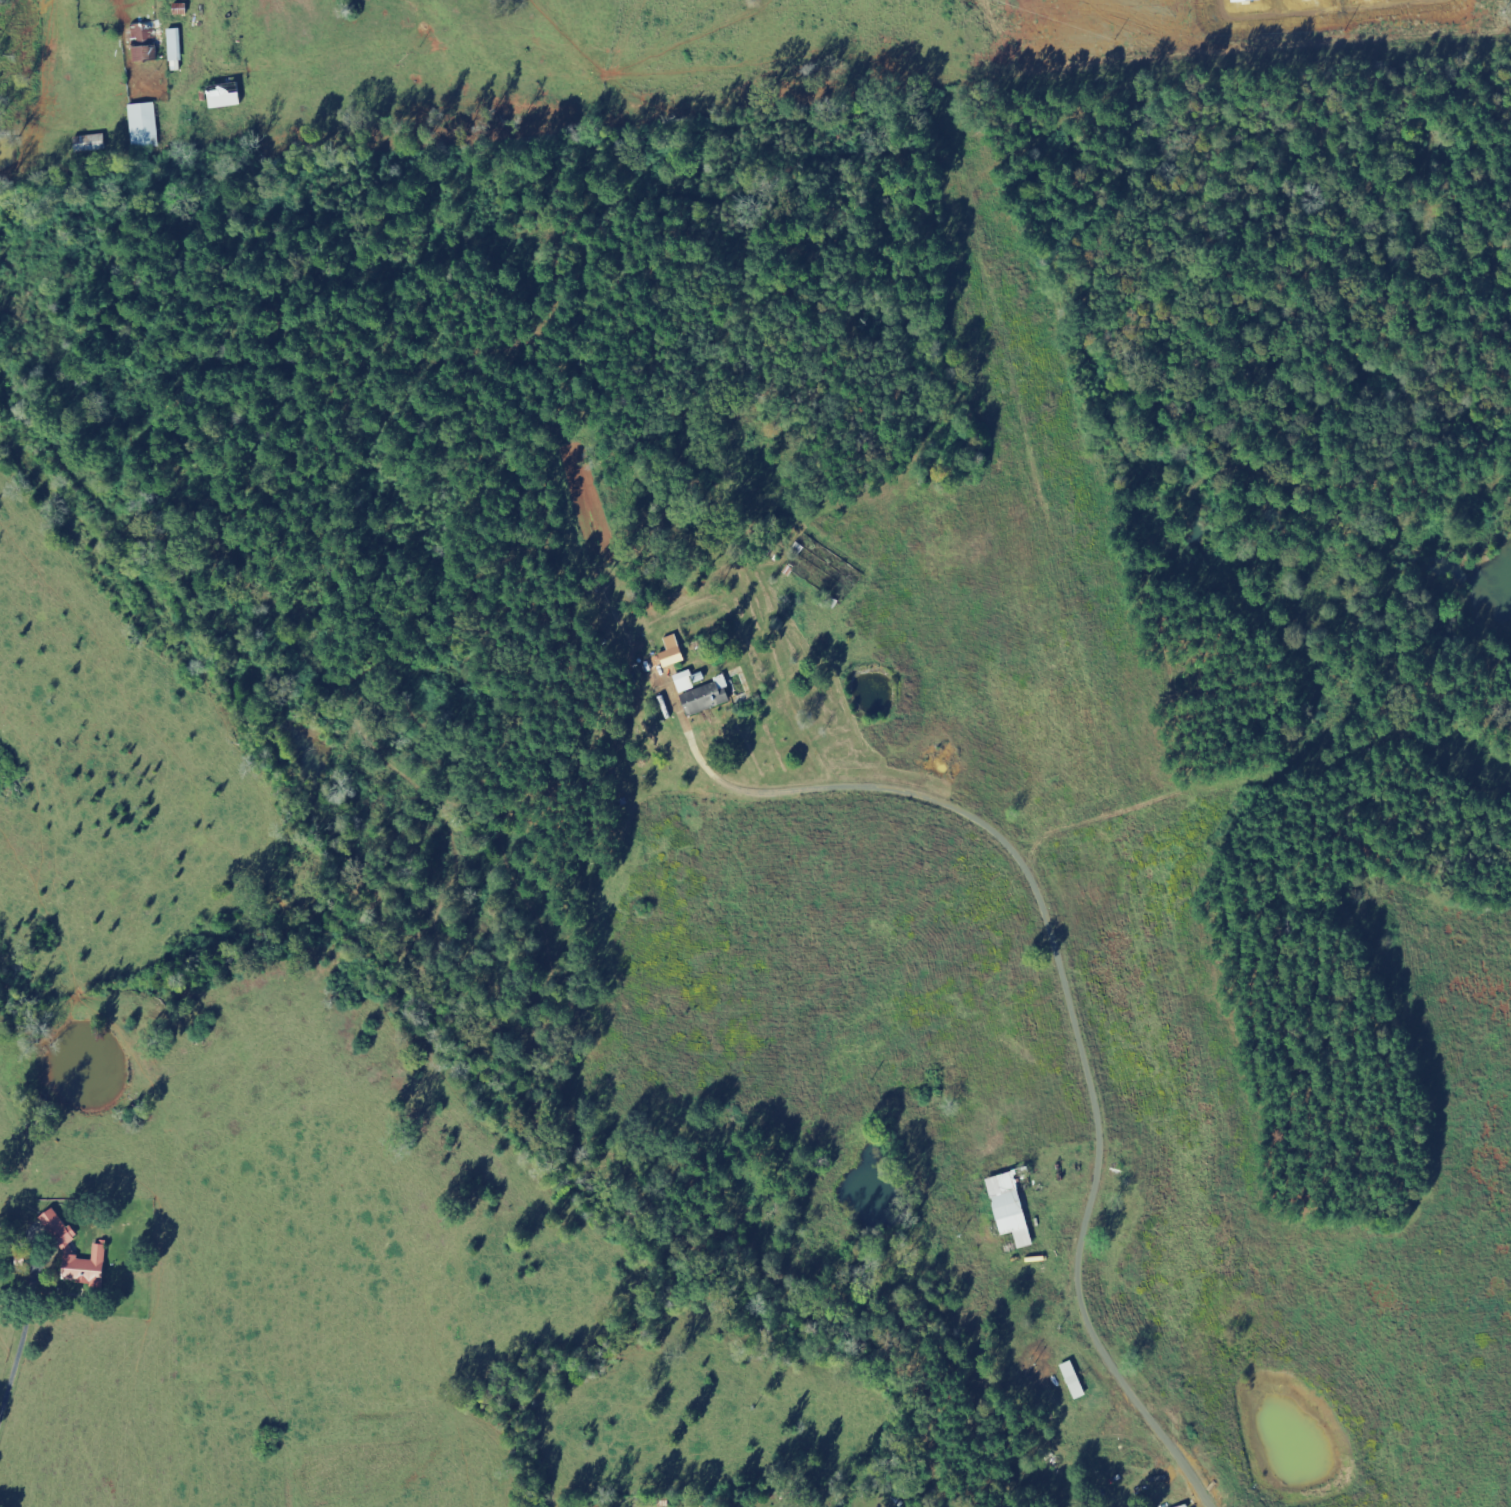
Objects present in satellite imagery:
building: (145, 43)
building: (175, 46)
building: (224, 99)
building: (144, 127)
building: (90, 144)
building: (672, 652)
building: (698, 678)
building: (685, 682)
road: (933, 690)
building: (707, 697)
road: (1060, 1046)
building: (1010, 1209)
building: (75, 1253)
road: (634, 1418)

